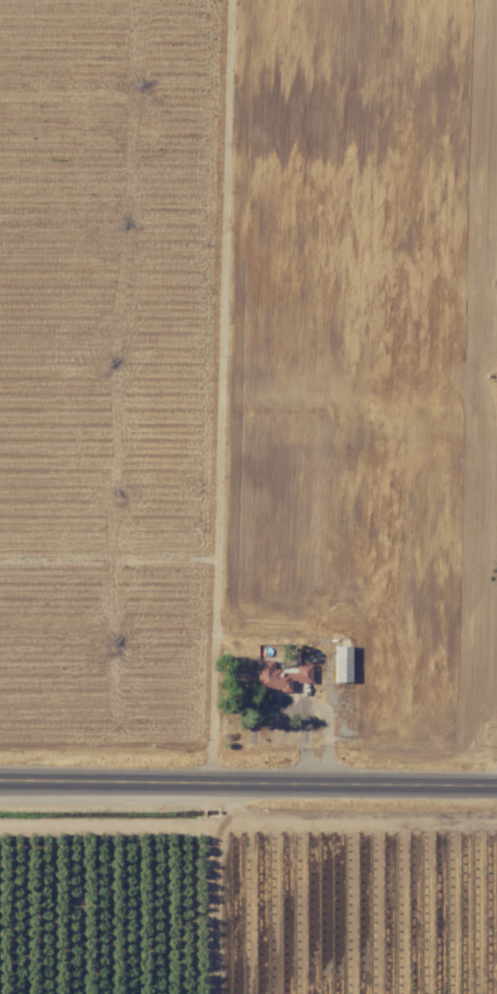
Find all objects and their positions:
road: (266, 634)
building: (342, 663)
building: (280, 675)
road: (302, 733)
road: (248, 783)
road: (218, 886)

